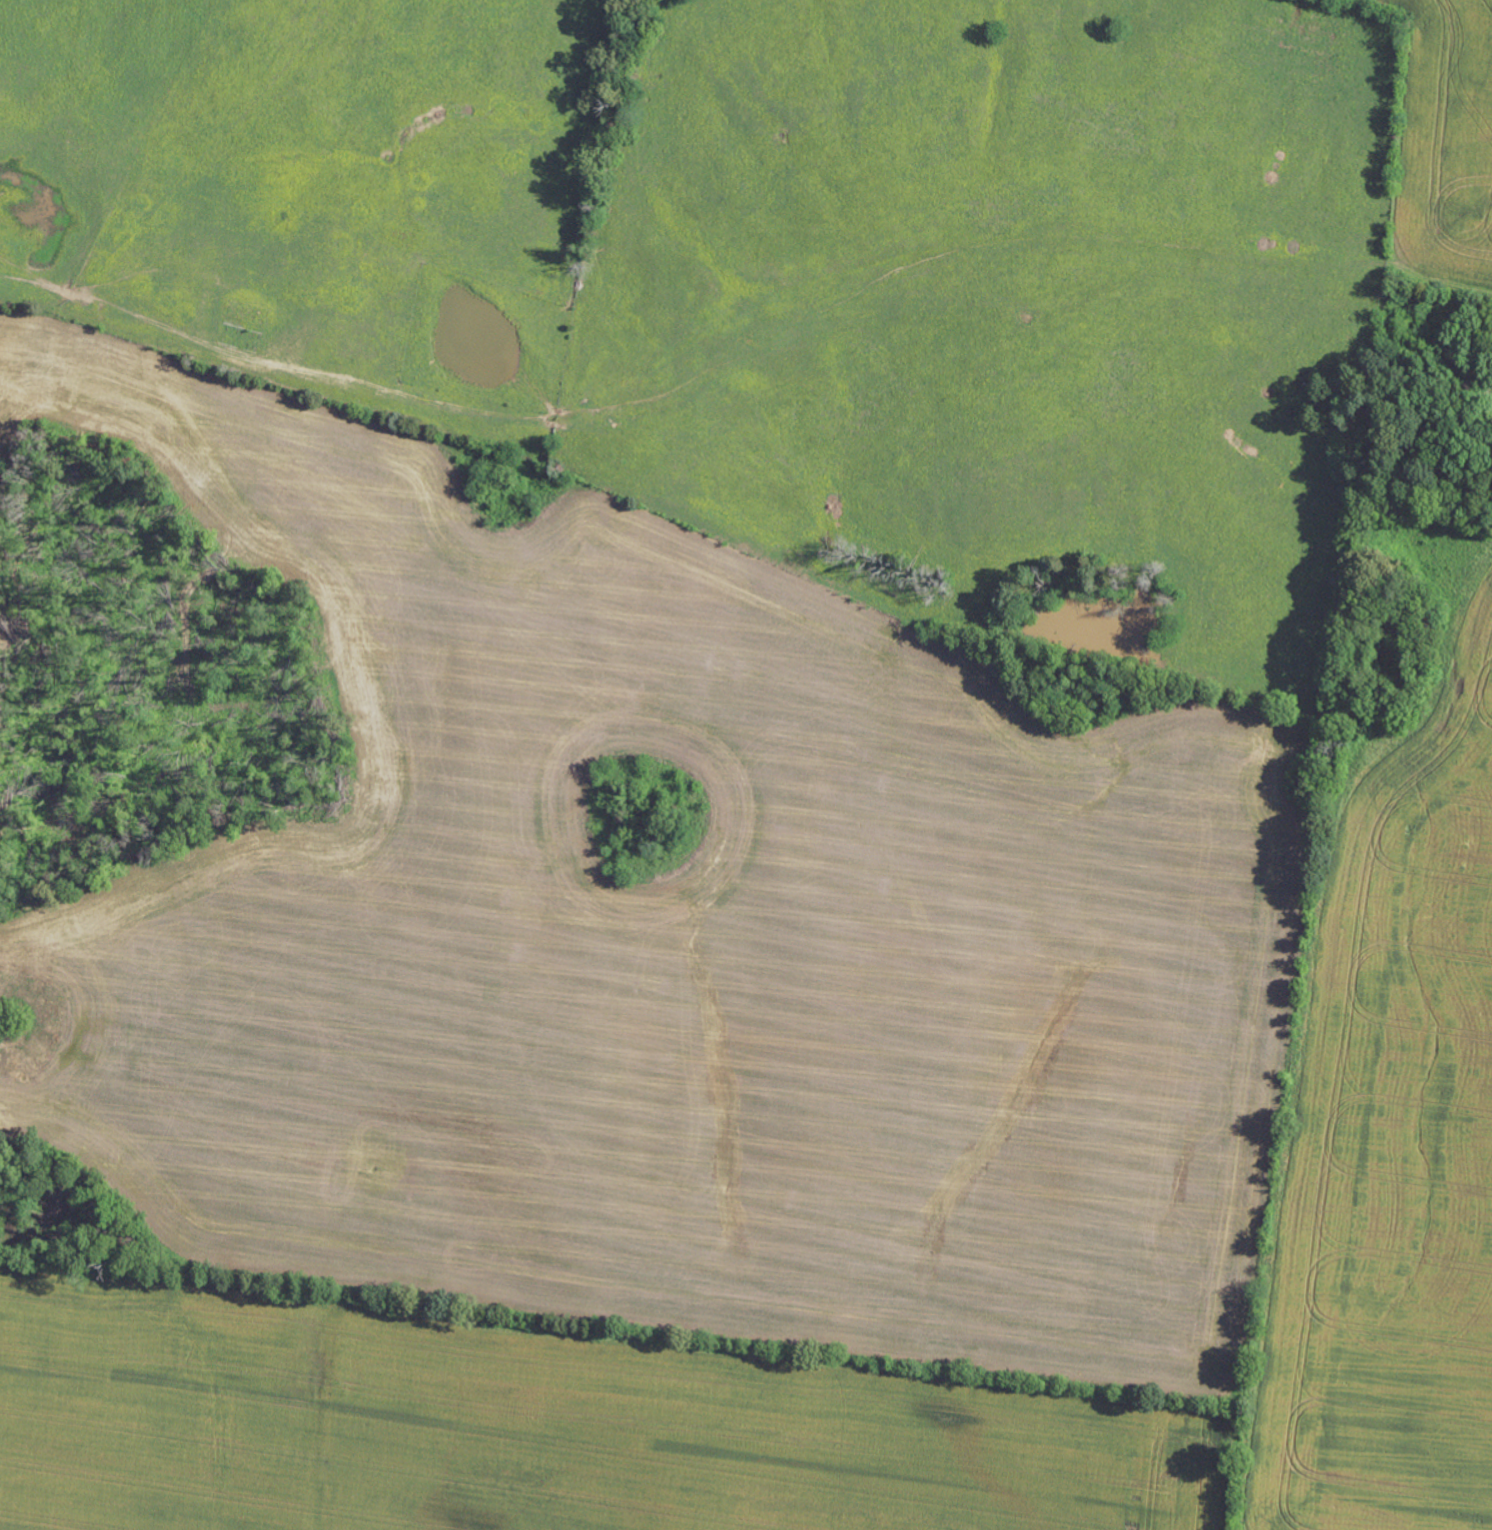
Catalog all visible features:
road: (756, 353)
road: (767, 1366)

